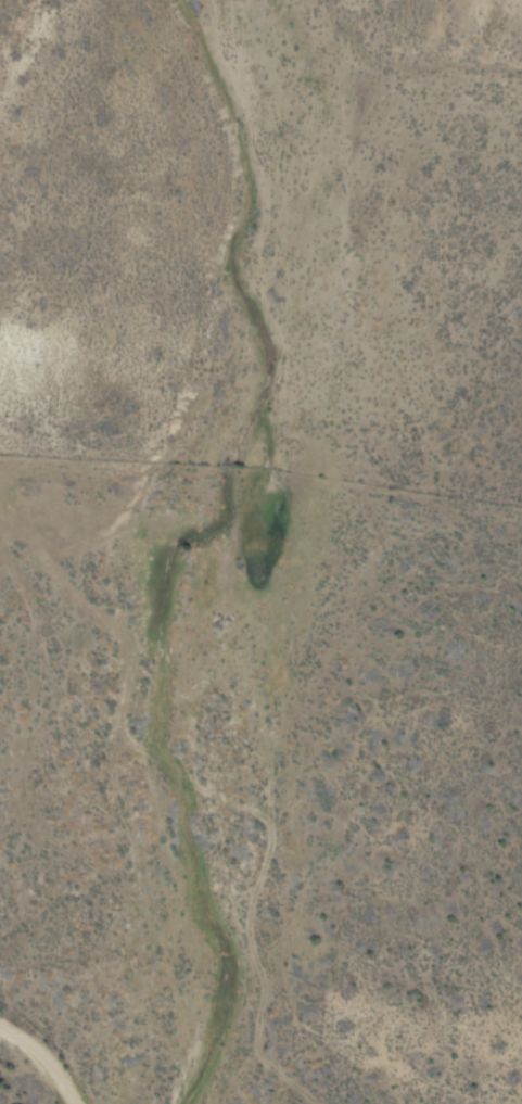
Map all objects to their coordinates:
road: (51, 1039)

